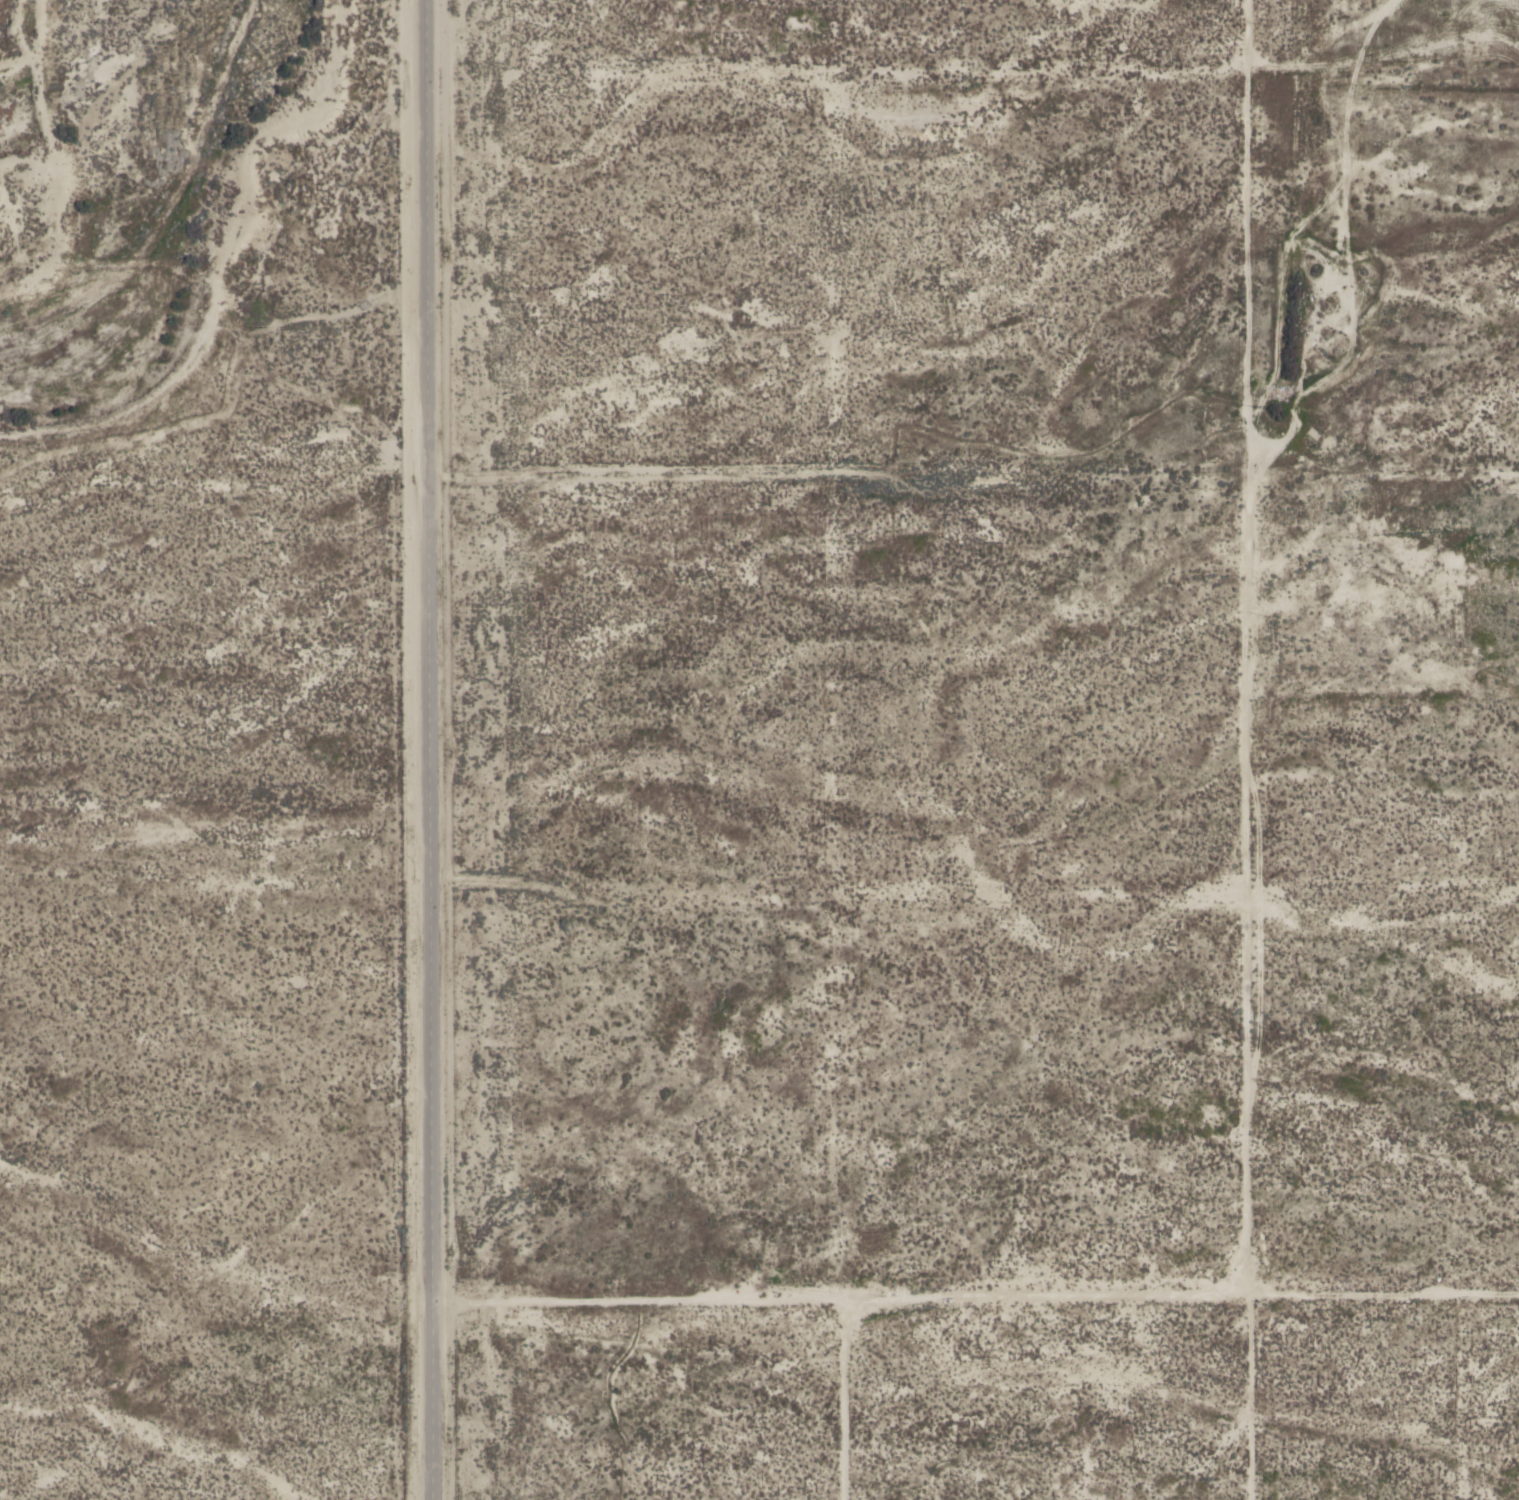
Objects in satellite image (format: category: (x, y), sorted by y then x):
road: (1385, 480)
road: (1250, 639)
road: (424, 749)
road: (973, 1283)

